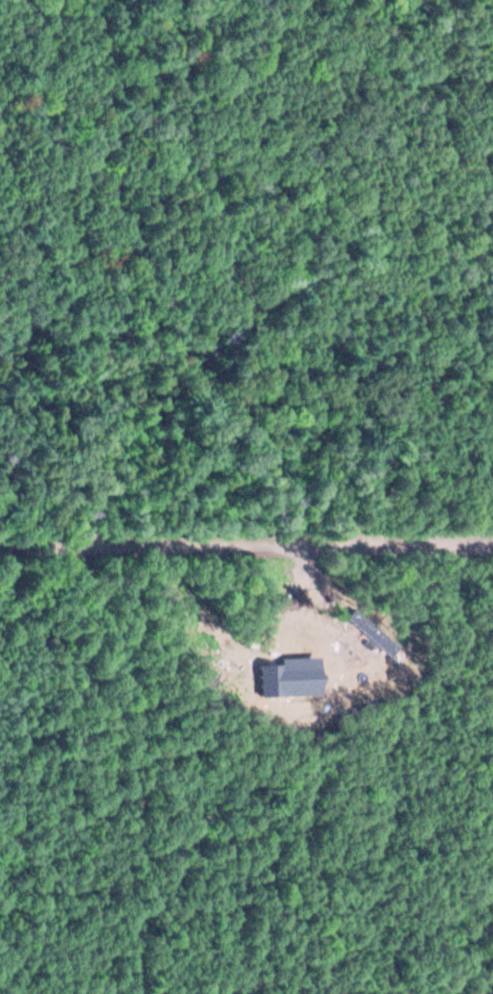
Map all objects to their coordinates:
road: (246, 541)

